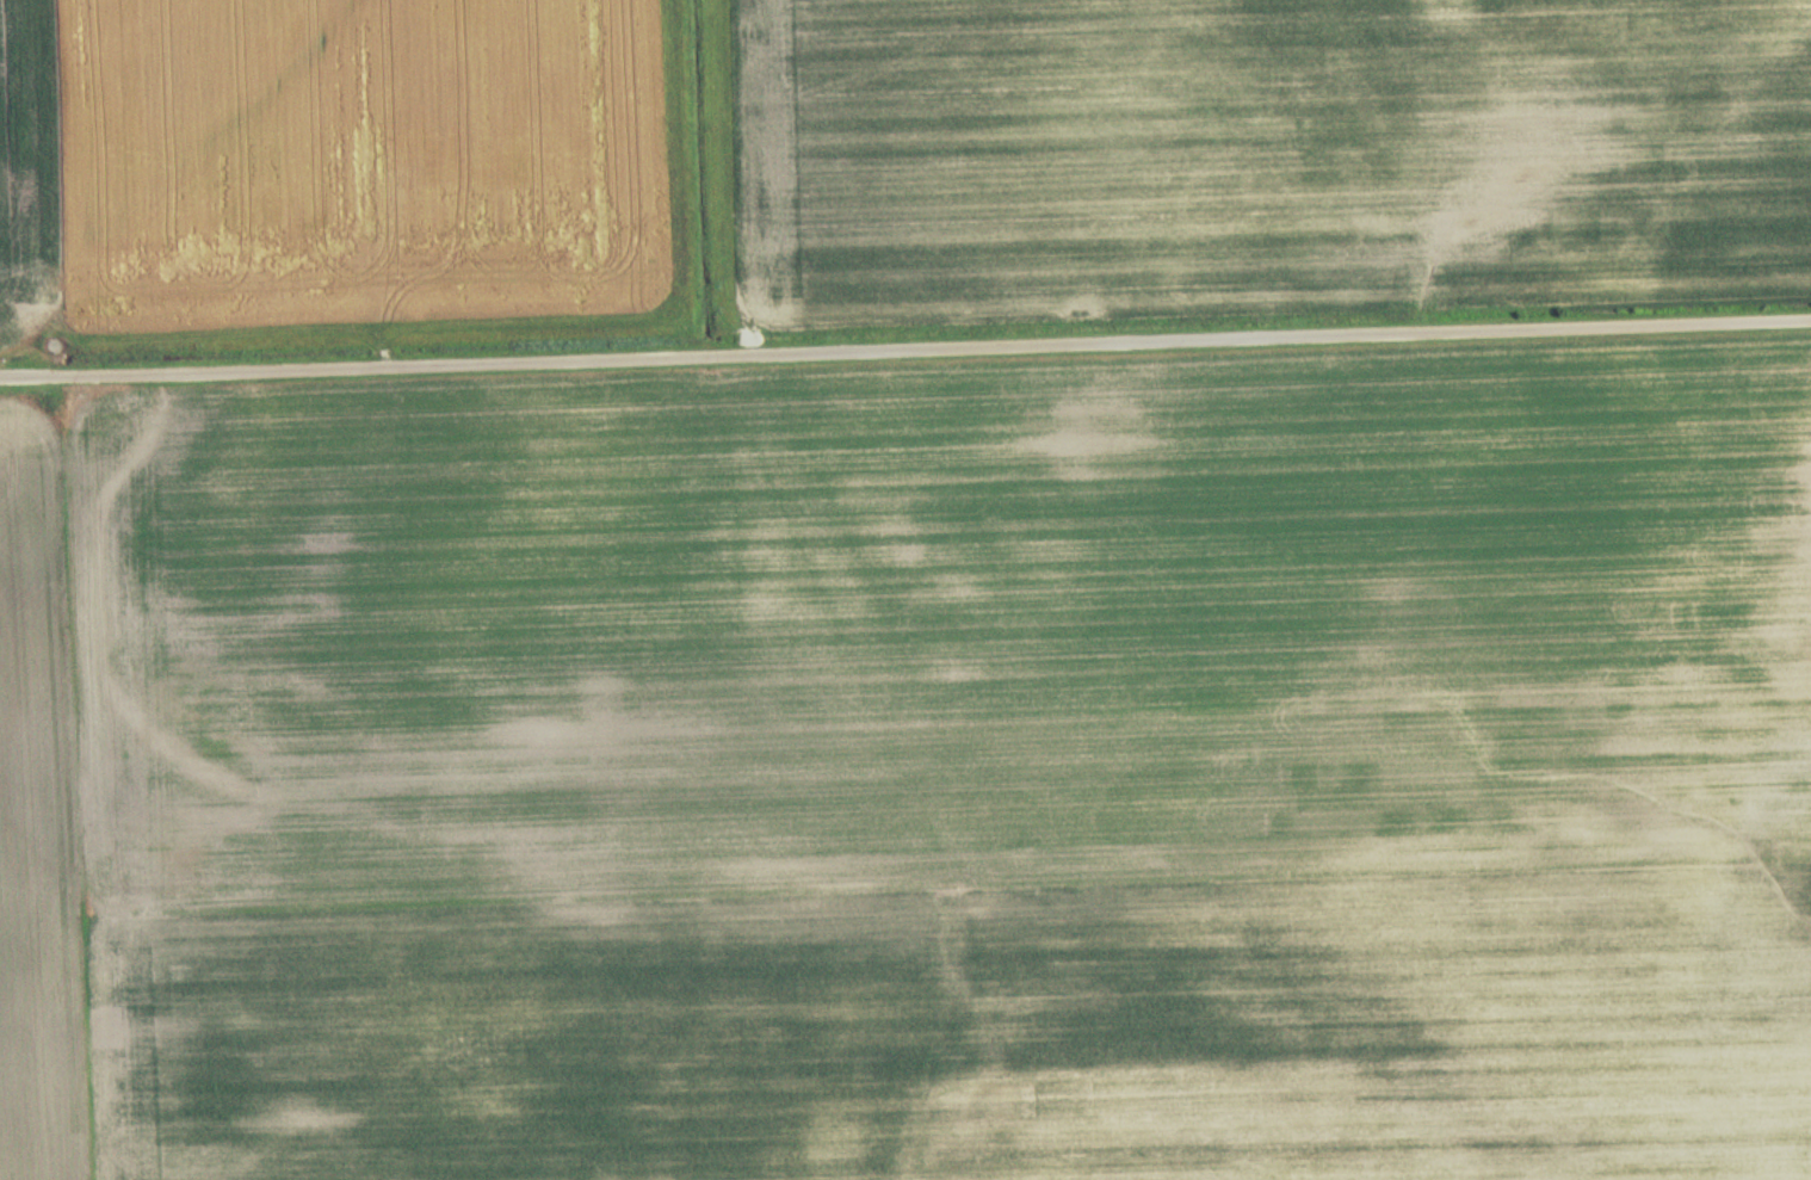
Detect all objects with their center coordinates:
road: (904, 350)

